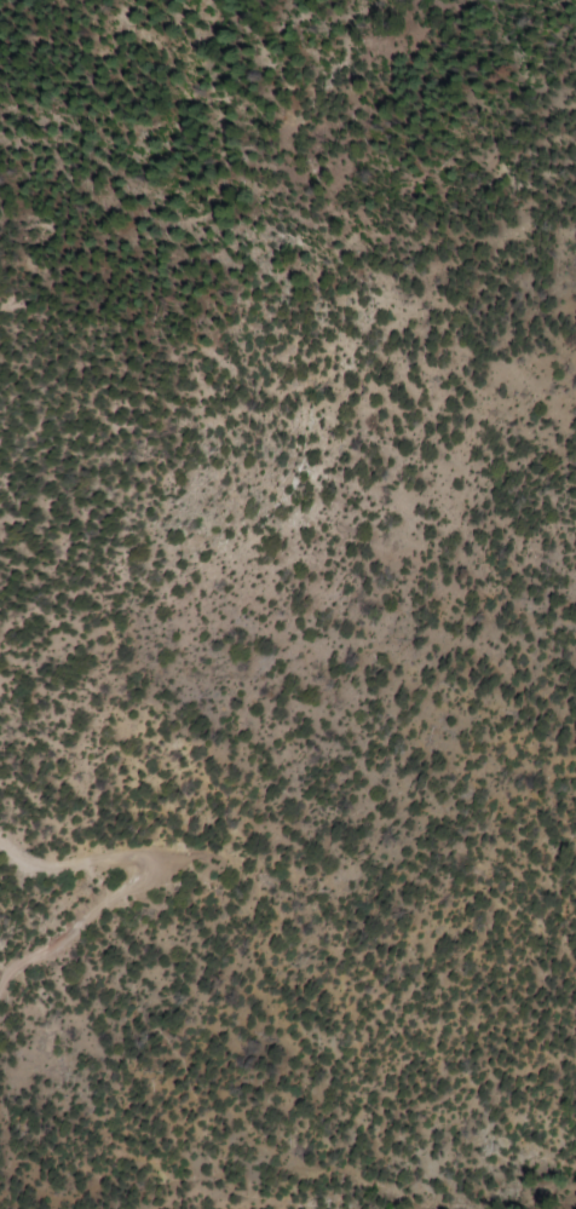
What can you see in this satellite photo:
road: (134, 881)

